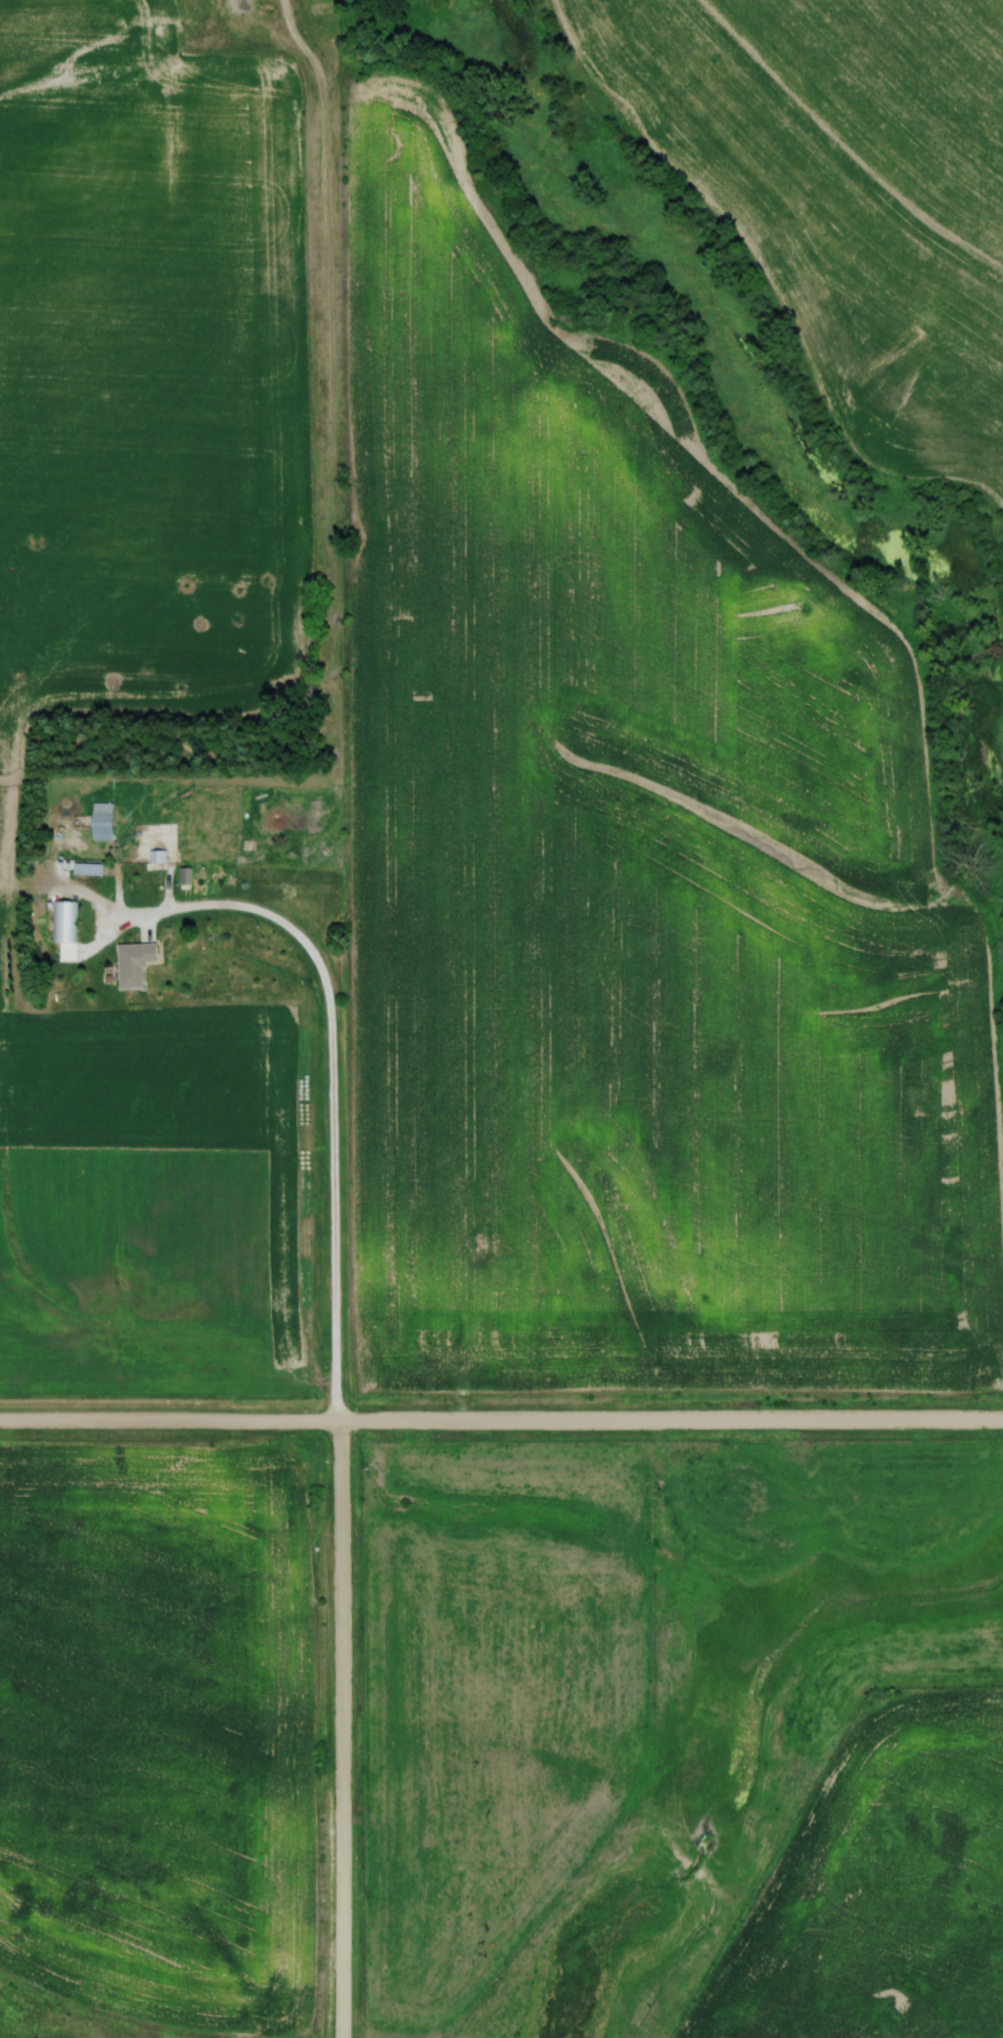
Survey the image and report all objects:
building: (104, 821)
building: (88, 869)
building: (184, 876)
building: (63, 922)
building: (134, 963)
road: (331, 1083)
road: (501, 1423)
road: (342, 1730)

